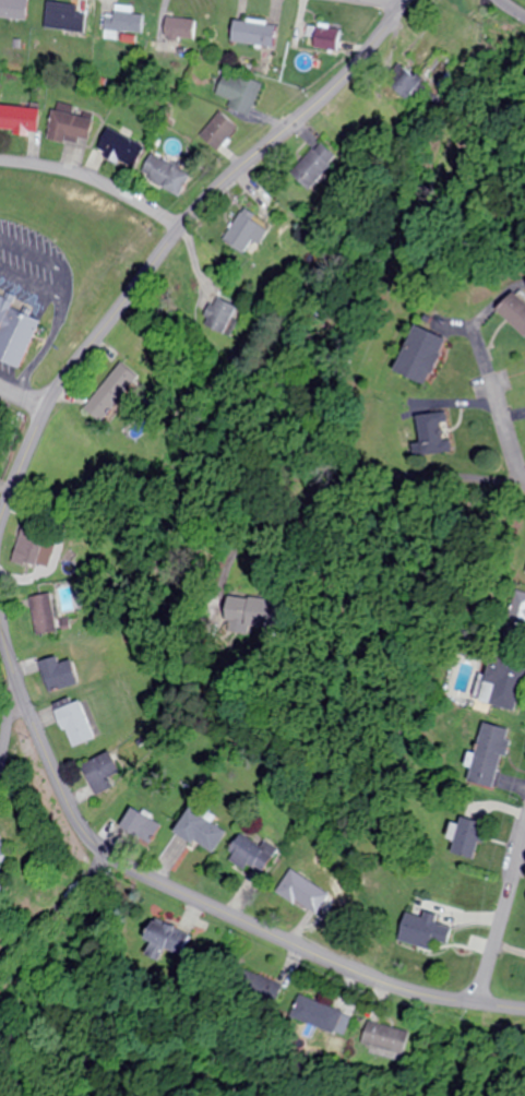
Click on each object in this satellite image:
road: (393, 1)
building: (12, 9)
road: (511, 9)
building: (62, 16)
building: (119, 20)
building: (177, 27)
building: (251, 32)
building: (322, 37)
building: (401, 76)
building: (236, 92)
building: (17, 118)
building: (68, 128)
building: (214, 129)
building: (118, 147)
building: (311, 165)
building: (163, 174)
road: (93, 179)
building: (239, 231)
road: (164, 242)
building: (515, 311)
building: (14, 333)
building: (421, 354)
building: (107, 391)
road: (24, 396)
road: (508, 427)
building: (437, 431)
road: (266, 526)
building: (23, 549)
building: (46, 610)
building: (58, 671)
building: (503, 683)
building: (74, 723)
road: (5, 726)
building: (488, 755)
building: (100, 771)
building: (140, 824)
building: (200, 827)
building: (467, 838)
building: (248, 855)
building: (2, 879)
road: (187, 892)
building: (305, 893)
road: (502, 922)
building: (426, 928)
building: (166, 940)
building: (322, 1014)
building: (387, 1039)

